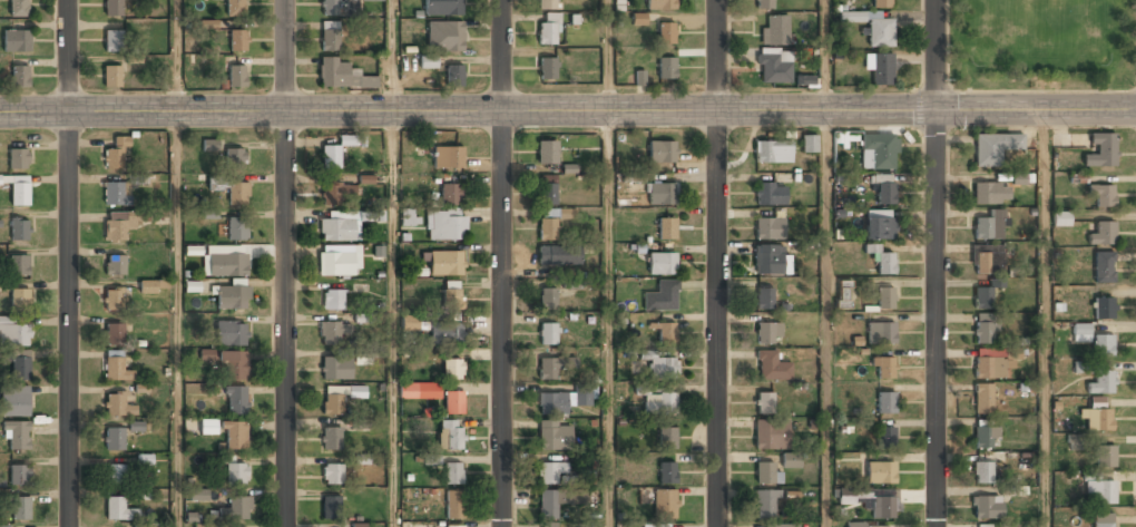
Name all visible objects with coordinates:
building: (372, 0)
building: (882, 3)
building: (547, 4)
building: (660, 4)
building: (764, 4)
building: (18, 8)
building: (112, 8)
building: (235, 8)
building: (337, 8)
building: (442, 8)
building: (638, 19)
building: (549, 29)
building: (775, 30)
building: (880, 31)
building: (665, 33)
building: (330, 37)
building: (444, 37)
building: (17, 41)
building: (112, 41)
building: (237, 41)
park: (1044, 45)
road: (947, 46)
road: (176, 56)
road: (392, 56)
road: (608, 56)
road: (825, 56)
building: (429, 61)
building: (547, 68)
building: (666, 68)
building: (773, 68)
building: (881, 69)
building: (333, 72)
building: (236, 76)
building: (454, 76)
building: (20, 77)
building: (112, 77)
road: (933, 91)
road: (1044, 94)
road: (567, 111)
traffic signals: (937, 113)
building: (809, 144)
building: (210, 145)
building: (993, 147)
building: (1101, 148)
building: (880, 150)
building: (547, 152)
building: (662, 152)
building: (773, 152)
building: (116, 155)
building: (19, 156)
building: (235, 157)
building: (330, 157)
building: (448, 157)
building: (1018, 178)
building: (548, 189)
building: (884, 191)
building: (19, 192)
building: (662, 193)
building: (1103, 193)
building: (114, 194)
building: (237, 194)
building: (337, 194)
building: (450, 194)
building: (770, 194)
building: (990, 194)
building: (567, 213)
building: (1061, 218)
building: (548, 224)
building: (117, 225)
building: (444, 225)
building: (989, 225)
building: (19, 227)
building: (666, 228)
building: (768, 228)
building: (879, 228)
building: (237, 230)
building: (336, 230)
building: (1103, 233)
building: (559, 255)
building: (881, 260)
building: (987, 260)
building: (767, 261)
building: (19, 263)
road: (69, 263)
road: (285, 263)
building: (445, 263)
road: (502, 263)
building: (662, 263)
road: (716, 263)
road: (936, 263)
building: (224, 264)
building: (335, 264)
building: (116, 266)
building: (1103, 267)
building: (996, 283)
building: (571, 284)
building: (153, 285)
building: (843, 294)
building: (232, 296)
building: (660, 296)
building: (20, 297)
building: (885, 297)
building: (982, 297)
building: (452, 299)
building: (763, 299)
building: (112, 300)
building: (547, 300)
building: (332, 301)
building: (1103, 309)
road: (392, 319)
road: (609, 319)
road: (825, 319)
road: (1045, 319)
road: (176, 320)
building: (982, 329)
building: (14, 332)
building: (666, 332)
building: (881, 332)
building: (114, 333)
building: (229, 333)
building: (447, 333)
building: (766, 333)
building: (1080, 333)
building: (332, 334)
building: (548, 334)
building: (1103, 344)
building: (208, 354)
building: (375, 354)
building: (234, 365)
building: (20, 367)
building: (116, 367)
building: (663, 367)
building: (771, 367)
building: (883, 367)
building: (335, 368)
building: (551, 368)
building: (989, 368)
building: (452, 370)
building: (1101, 381)
building: (420, 390)
building: (584, 398)
building: (982, 399)
building: (14, 400)
building: (236, 401)
building: (885, 401)
building: (333, 402)
building: (453, 402)
building: (764, 402)
building: (552, 403)
building: (117, 404)
building: (660, 404)
building: (1097, 414)
building: (360, 423)
building: (137, 426)
building: (208, 427)
building: (17, 435)
building: (450, 435)
building: (771, 435)
building: (885, 435)
building: (235, 436)
building: (555, 437)
building: (985, 437)
building: (667, 438)
building: (114, 439)
building: (331, 439)
building: (1075, 441)
building: (1106, 456)
building: (145, 459)
building: (362, 459)
building: (791, 461)
building: (552, 472)
building: (667, 472)
building: (880, 472)
building: (982, 472)
building: (453, 474)
building: (765, 474)
building: (19, 475)
building: (116, 475)
building: (236, 475)
building: (332, 475)
building: (1099, 490)
building: (141, 494)
building: (198, 494)
building: (853, 496)
building: (558, 501)
building: (665, 502)
building: (453, 505)
building: (765, 505)
building: (331, 507)
building: (987, 507)
building: (20, 508)
building: (236, 508)
building: (883, 508)
building: (119, 509)
building: (1101, 520)
building: (4, 525)
building: (143, 525)
building: (204, 525)
building: (655, 525)
building: (855, 525)
building: (454, 526)
building: (548, 526)
building: (776, 526)
building: (877, 526)
building: (982, 526)

